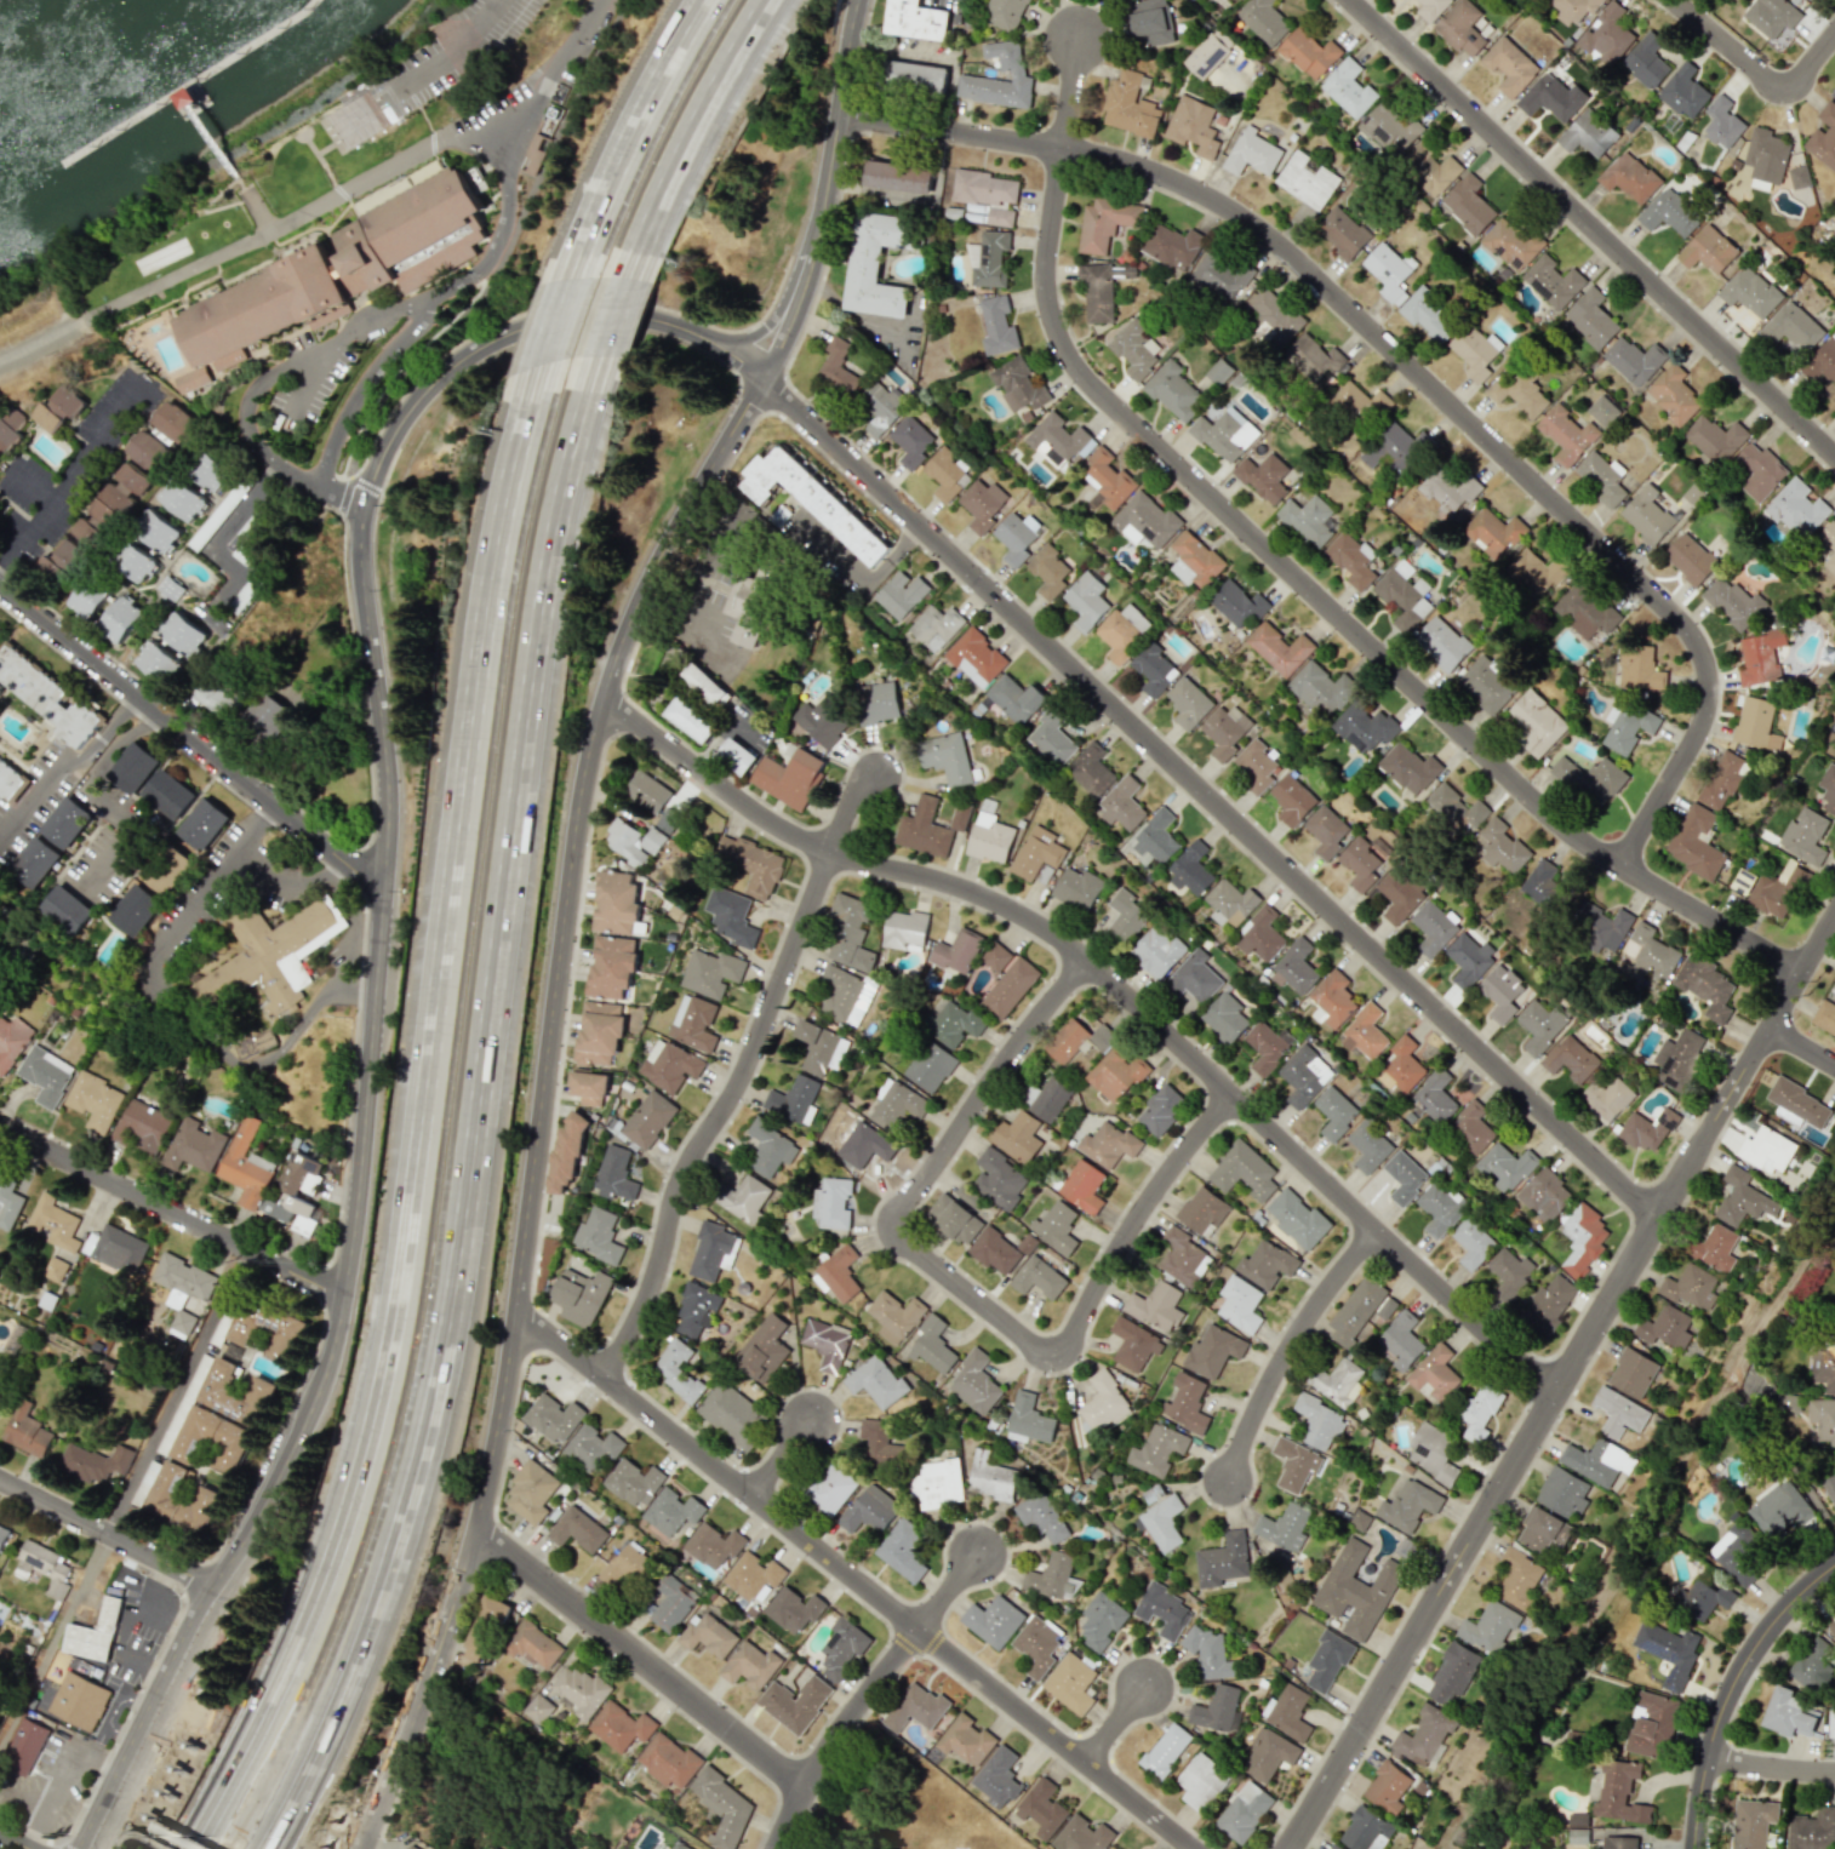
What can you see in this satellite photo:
building: (1431, 8)
building: (1573, 11)
building: (1004, 13)
building: (1772, 17)
building: (915, 19)
building: (1263, 21)
building: (1150, 22)
building: (1460, 28)
river: (47, 33)
building: (1606, 34)
road: (1731, 46)
road: (453, 47)
building: (1208, 53)
building: (1309, 53)
building: (1646, 61)
road: (1811, 62)
building: (1509, 65)
building: (1014, 73)
building: (914, 76)
road: (189, 81)
building: (1348, 88)
building: (1683, 91)
road: (1071, 92)
building: (1833, 93)
building: (1551, 97)
building: (1130, 105)
building: (356, 119)
building: (1722, 122)
building: (1193, 126)
building: (1389, 131)
building: (1588, 133)
road: (690, 136)
building: (1823, 136)
road: (630, 138)
road: (211, 141)
building: (1252, 153)
building: (533, 154)
building: (1766, 158)
building: (1429, 168)
building: (897, 176)
building: (1629, 177)
building: (1799, 177)
building: (1307, 181)
road: (822, 193)
building: (988, 194)
building: (1468, 205)
building: (1669, 212)
road: (258, 214)
road: (302, 222)
building: (1105, 223)
road: (1593, 228)
building: (1342, 231)
building: (1834, 235)
building: (1510, 242)
building: (1172, 246)
building: (1708, 250)
road: (503, 251)
building: (988, 259)
building: (876, 263)
building: (342, 264)
building: (1389, 271)
building: (1219, 276)
road: (469, 277)
building: (1553, 281)
building: (1097, 291)
building: (1750, 292)
road: (777, 304)
road: (844, 311)
building: (1428, 315)
building: (1591, 319)
building: (1273, 320)
road: (610, 322)
road: (551, 326)
building: (997, 326)
building: (1791, 327)
road: (44, 339)
building: (1136, 349)
building: (1475, 351)
building: (1313, 357)
road: (1407, 357)
building: (1634, 360)
building: (1822, 361)
building: (836, 367)
road: (275, 370)
building: (1219, 371)
building: (193, 377)
building: (1017, 384)
building: (1173, 390)
building: (1517, 394)
building: (1673, 394)
building: (1359, 405)
building: (880, 407)
building: (55, 410)
building: (1602, 411)
building: (171, 422)
building: (7, 425)
building: (1225, 434)
building: (1566, 435)
building: (1715, 439)
building: (910, 440)
building: (1056, 440)
building: (1395, 447)
building: (148, 451)
road: (72, 470)
building: (207, 471)
building: (1759, 471)
building: (947, 475)
building: (1264, 477)
building: (1601, 477)
building: (132, 479)
building: (1108, 479)
road: (25, 486)
building: (1448, 488)
road: (344, 494)
building: (181, 499)
building: (811, 500)
building: (983, 504)
building: (1796, 509)
building: (103, 514)
building: (1646, 515)
building: (1310, 519)
building: (1145, 521)
building: (156, 531)
building: (1492, 532)
building: (1016, 537)
building: (1829, 543)
road: (212, 544)
road: (831, 550)
road: (891, 554)
building: (1350, 559)
building: (1690, 559)
building: (1194, 560)
building: (133, 561)
building: (61, 562)
building: (1048, 571)
building: (1536, 572)
building: (170, 588)
building: (901, 594)
building: (1404, 595)
building: (87, 600)
building: (1085, 601)
building: (751, 602)
building: (1733, 602)
building: (1236, 605)
road: (1340, 611)
building: (1585, 613)
building: (120, 619)
road: (690, 619)
building: (934, 626)
building: (0, 631)
building: (1122, 631)
building: (182, 632)
building: (1442, 642)
building: (1279, 648)
building: (976, 657)
building: (1760, 657)
building: (158, 663)
building: (1639, 668)
building: (1153, 669)
building: (1488, 682)
building: (704, 683)
building: (1320, 689)
building: (46, 697)
building: (1016, 699)
building: (217, 702)
building: (876, 703)
building: (1188, 703)
building: (267, 716)
building: (823, 719)
building: (690, 720)
building: (1536, 723)
building: (1756, 723)
building: (1364, 727)
building: (1627, 727)
building: (1225, 729)
road: (724, 738)
building: (1051, 738)
road: (189, 739)
building: (1834, 755)
building: (736, 756)
building: (945, 757)
building: (1257, 766)
building: (132, 768)
building: (1408, 768)
building: (1090, 769)
road: (67, 771)
building: (789, 778)
building: (1590, 778)
building: (1721, 779)
building: (11, 782)
building: (1828, 788)
building: (646, 791)
building: (168, 794)
road: (1208, 795)
road: (91, 796)
building: (1291, 800)
building: (1122, 803)
building: (1456, 808)
road: (850, 812)
road: (248, 817)
building: (65, 822)
building: (202, 824)
building: (922, 829)
building: (1325, 831)
building: (1803, 836)
building: (990, 838)
building: (1153, 838)
building: (651, 841)
building: (624, 842)
building: (1696, 842)
building: (1502, 846)
building: (1037, 855)
building: (34, 861)
road: (265, 861)
building: (1365, 861)
building: (751, 864)
building: (166, 869)
road: (333, 869)
building: (1191, 869)
building: (1742, 881)
building: (1545, 886)
building: (1076, 888)
building: (1777, 889)
road: (337, 892)
building: (1400, 892)
road: (189, 897)
building: (614, 903)
building: (1230, 903)
building: (135, 909)
building: (65, 910)
building: (730, 916)
building: (1126, 916)
building: (1600, 926)
building: (1434, 927)
building: (904, 931)
building: (850, 932)
building: (1261, 935)
building: (957, 951)
building: (1157, 951)
road: (376, 952)
building: (1650, 952)
building: (268, 955)
building: (995, 956)
building: (1469, 960)
building: (611, 966)
building: (1294, 967)
building: (711, 972)
building: (1194, 977)
building: (1707, 986)
building: (1010, 988)
road: (1116, 988)
building: (1502, 992)
building: (846, 994)
road: (348, 997)
building: (1332, 1000)
building: (1824, 1017)
building: (1225, 1018)
building: (693, 1023)
building: (951, 1024)
building: (1542, 1024)
building: (598, 1032)
building: (1364, 1032)
building: (1102, 1037)
building: (1067, 1040)
building: (12, 1041)
building: (253, 1042)
building: (1267, 1046)
building: (821, 1048)
road: (1802, 1052)
building: (1677, 1058)
building: (1570, 1059)
building: (668, 1065)
building: (930, 1066)
road: (253, 1067)
building: (1400, 1067)
building: (45, 1075)
building: (1116, 1075)
building: (1303, 1075)
building: (588, 1087)
building: (1435, 1097)
building: (1046, 1098)
building: (1606, 1098)
building: (93, 1100)
building: (794, 1100)
building: (896, 1104)
road: (545, 1106)
building: (1800, 1109)
building: (1161, 1110)
building: (1334, 1112)
building: (648, 1118)
road: (720, 1118)
road: (478, 1121)
road: (424, 1124)
building: (1475, 1126)
building: (142, 1127)
building: (1648, 1129)
building: (1018, 1137)
building: (863, 1144)
building: (1108, 1144)
building: (194, 1145)
building: (1368, 1146)
building: (770, 1149)
building: (1767, 1150)
building: (565, 1156)
building: (245, 1164)
building: (1505, 1167)
building: (1242, 1170)
building: (613, 1174)
building: (1404, 1177)
building: (999, 1179)
building: (1082, 1186)
building: (295, 1195)
building: (1544, 1195)
building: (743, 1200)
building: (1747, 1200)
building: (8, 1203)
building: (831, 1203)
building: (1440, 1208)
building: (1202, 1209)
road: (171, 1212)
building: (954, 1219)
building: (1298, 1219)
building: (53, 1223)
building: (1056, 1226)
building: (598, 1235)
building: (1583, 1237)
building: (1473, 1242)
building: (1027, 1243)
building: (115, 1248)
building: (1715, 1248)
building: (710, 1250)
building: (994, 1250)
building: (1182, 1256)
building: (1265, 1264)
building: (55, 1269)
building: (836, 1273)
building: (1510, 1273)
building: (1037, 1277)
building: (181, 1282)
building: (1690, 1287)
road: (964, 1289)
building: (579, 1295)
building: (1240, 1304)
building: (1548, 1305)
building: (1156, 1306)
building: (696, 1310)
building: (1360, 1310)
building: (894, 1316)
building: (179, 1323)
building: (1665, 1327)
building: (286, 1334)
building: (1401, 1340)
building: (825, 1344)
building: (1133, 1344)
building: (932, 1346)
building: (762, 1349)
road: (1292, 1350)
building: (1213, 1351)
road: (558, 1356)
building: (1823, 1367)
building: (676, 1369)
building: (1631, 1373)
building: (1434, 1374)
building: (876, 1381)
building: (1337, 1381)
road: (1564, 1381)
building: (974, 1384)
building: (234, 1392)
building: (1103, 1402)
building: (1185, 1403)
building: (1785, 1403)
building: (1480, 1412)
building: (1619, 1413)
building: (732, 1414)
building: (553, 1418)
building: (1823, 1419)
building: (1317, 1421)
building: (25, 1430)
building: (879, 1437)
building: (210, 1441)
building: (591, 1447)
building: (1156, 1449)
building: (1433, 1452)
road: (782, 1460)
building: (1596, 1461)
building: (92, 1462)
building: (1294, 1464)
building: (990, 1477)
building: (633, 1482)
building: (938, 1483)
building: (829, 1488)
building: (1830, 1488)
building: (532, 1489)
building: (1562, 1492)
road: (124, 1499)
building: (181, 1500)
building: (1407, 1505)
building: (869, 1510)
building: (1778, 1510)
building: (671, 1511)
building: (1041, 1516)
building: (1162, 1523)
building: (1284, 1525)
building: (577, 1529)
building: (1543, 1530)
building: (2, 1534)
road: (107, 1536)
building: (711, 1545)
building: (902, 1550)
building: (1737, 1553)
building: (1223, 1559)
building: (624, 1565)
building: (42, 1567)
building: (751, 1575)
building: (1051, 1576)
building: (1519, 1578)
building: (1360, 1586)
building: (1702, 1598)
building: (670, 1603)
building: (793, 1609)
building: (1162, 1610)
road: (896, 1613)
building: (993, 1620)
building: (1101, 1621)
building: (1831, 1625)
building: (1488, 1627)
building: (484, 1628)
building: (95, 1632)
road: (124, 1632)
building: (708, 1635)
building: (532, 1644)
building: (1036, 1645)
building: (842, 1647)
building: (1668, 1650)
building: (1208, 1654)
road: (641, 1660)
building: (1327, 1661)
building: (749, 1665)
building: (1814, 1665)
building: (1452, 1675)
building: (1070, 1683)
road: (1732, 1690)
building: (579, 1691)
road: (869, 1695)
building: (78, 1700)
building: (794, 1702)
building: (915, 1707)
road: (113, 1708)
building: (538, 1708)
building: (1216, 1708)
building: (1287, 1712)
building: (1791, 1713)
building: (1831, 1722)
building: (619, 1725)
road: (1116, 1725)
building: (1651, 1725)
building: (1423, 1735)
building: (965, 1740)
building: (24, 1746)
building: (1165, 1750)
building: (1268, 1753)
building: (668, 1759)
road: (61, 1768)
road: (1772, 1768)
building: (996, 1776)
building: (1201, 1781)
building: (1388, 1787)
building: (1619, 1792)
park: (899, 1801)
building: (722, 1807)
building: (1041, 1809)
building: (1244, 1811)
building: (1753, 1822)
building: (1812, 1830)
building: (1366, 1831)
road: (141, 1832)
building: (1082, 1834)
building: (1578, 1836)
road: (13, 1842)
building: (1619, 1842)
building: (416, 1845)
building: (679, 1845)
building: (488, 1847)
building: (1334, 1847)
building: (1110, 1848)

